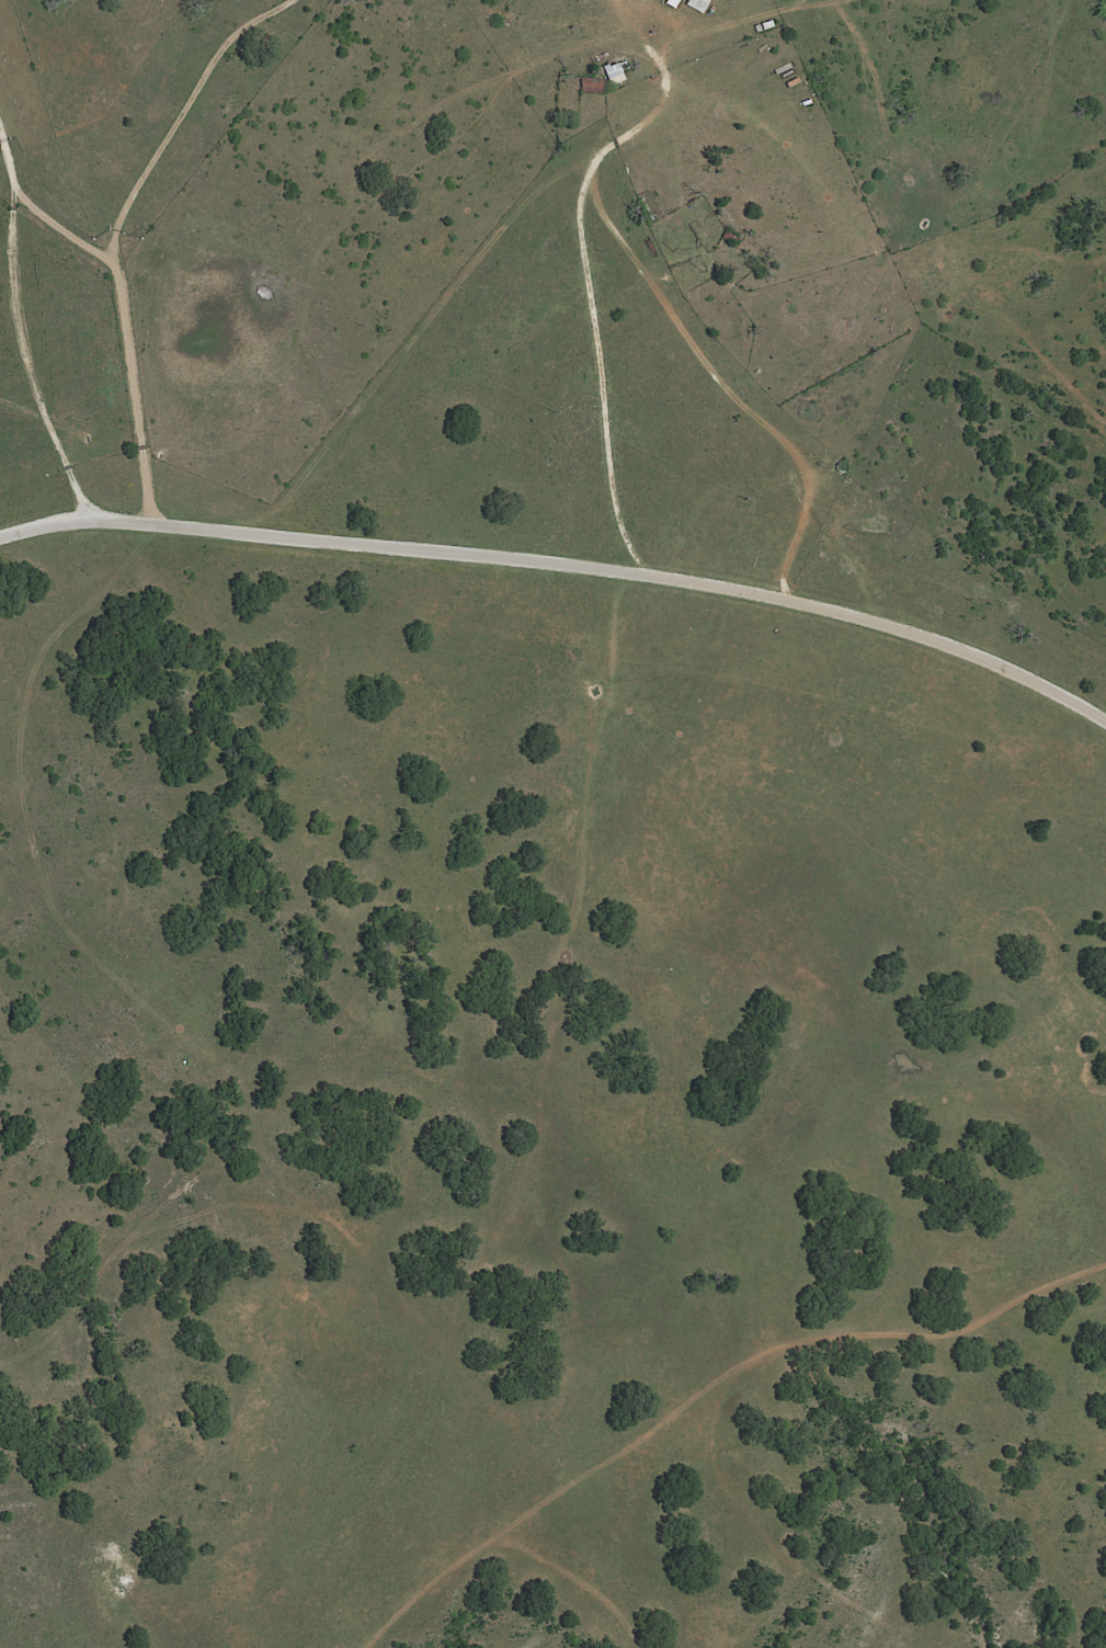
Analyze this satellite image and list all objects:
building: (669, 3)
building: (694, 4)
building: (609, 73)
road: (588, 293)
road: (122, 323)
road: (19, 325)
road: (563, 562)

